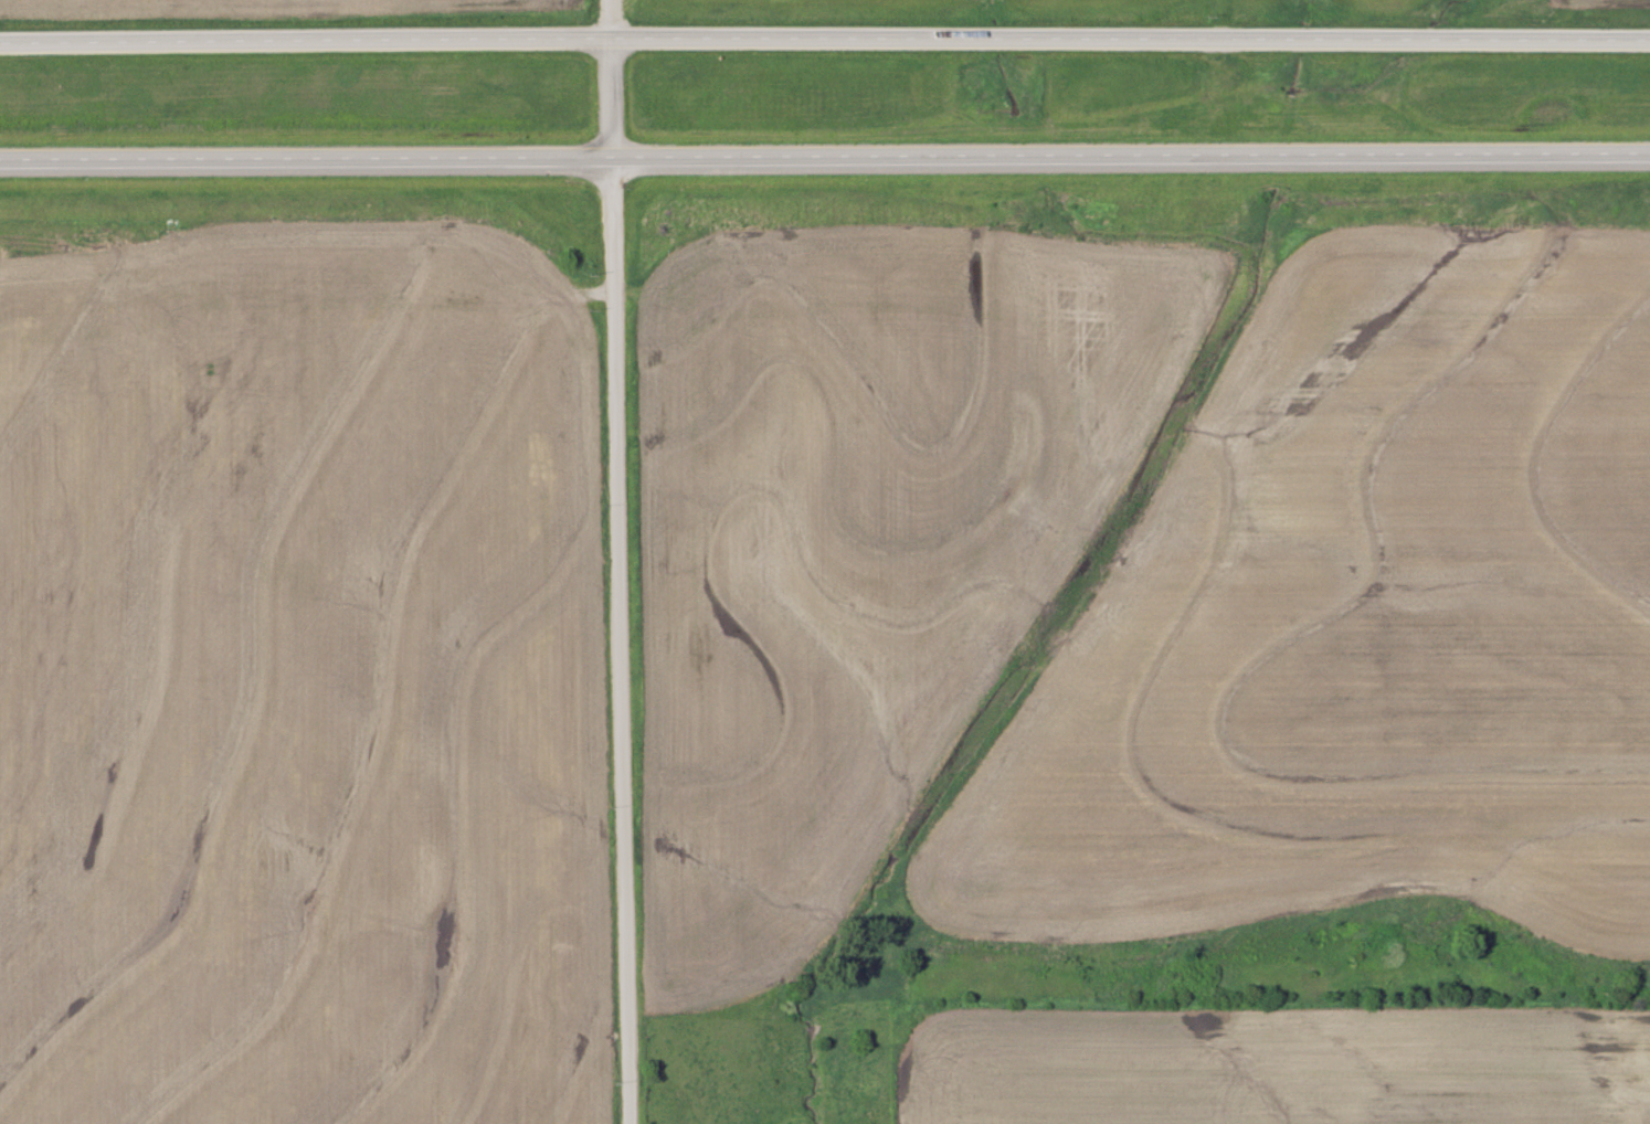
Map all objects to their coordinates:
road: (824, 40)
road: (825, 156)
road: (622, 561)

